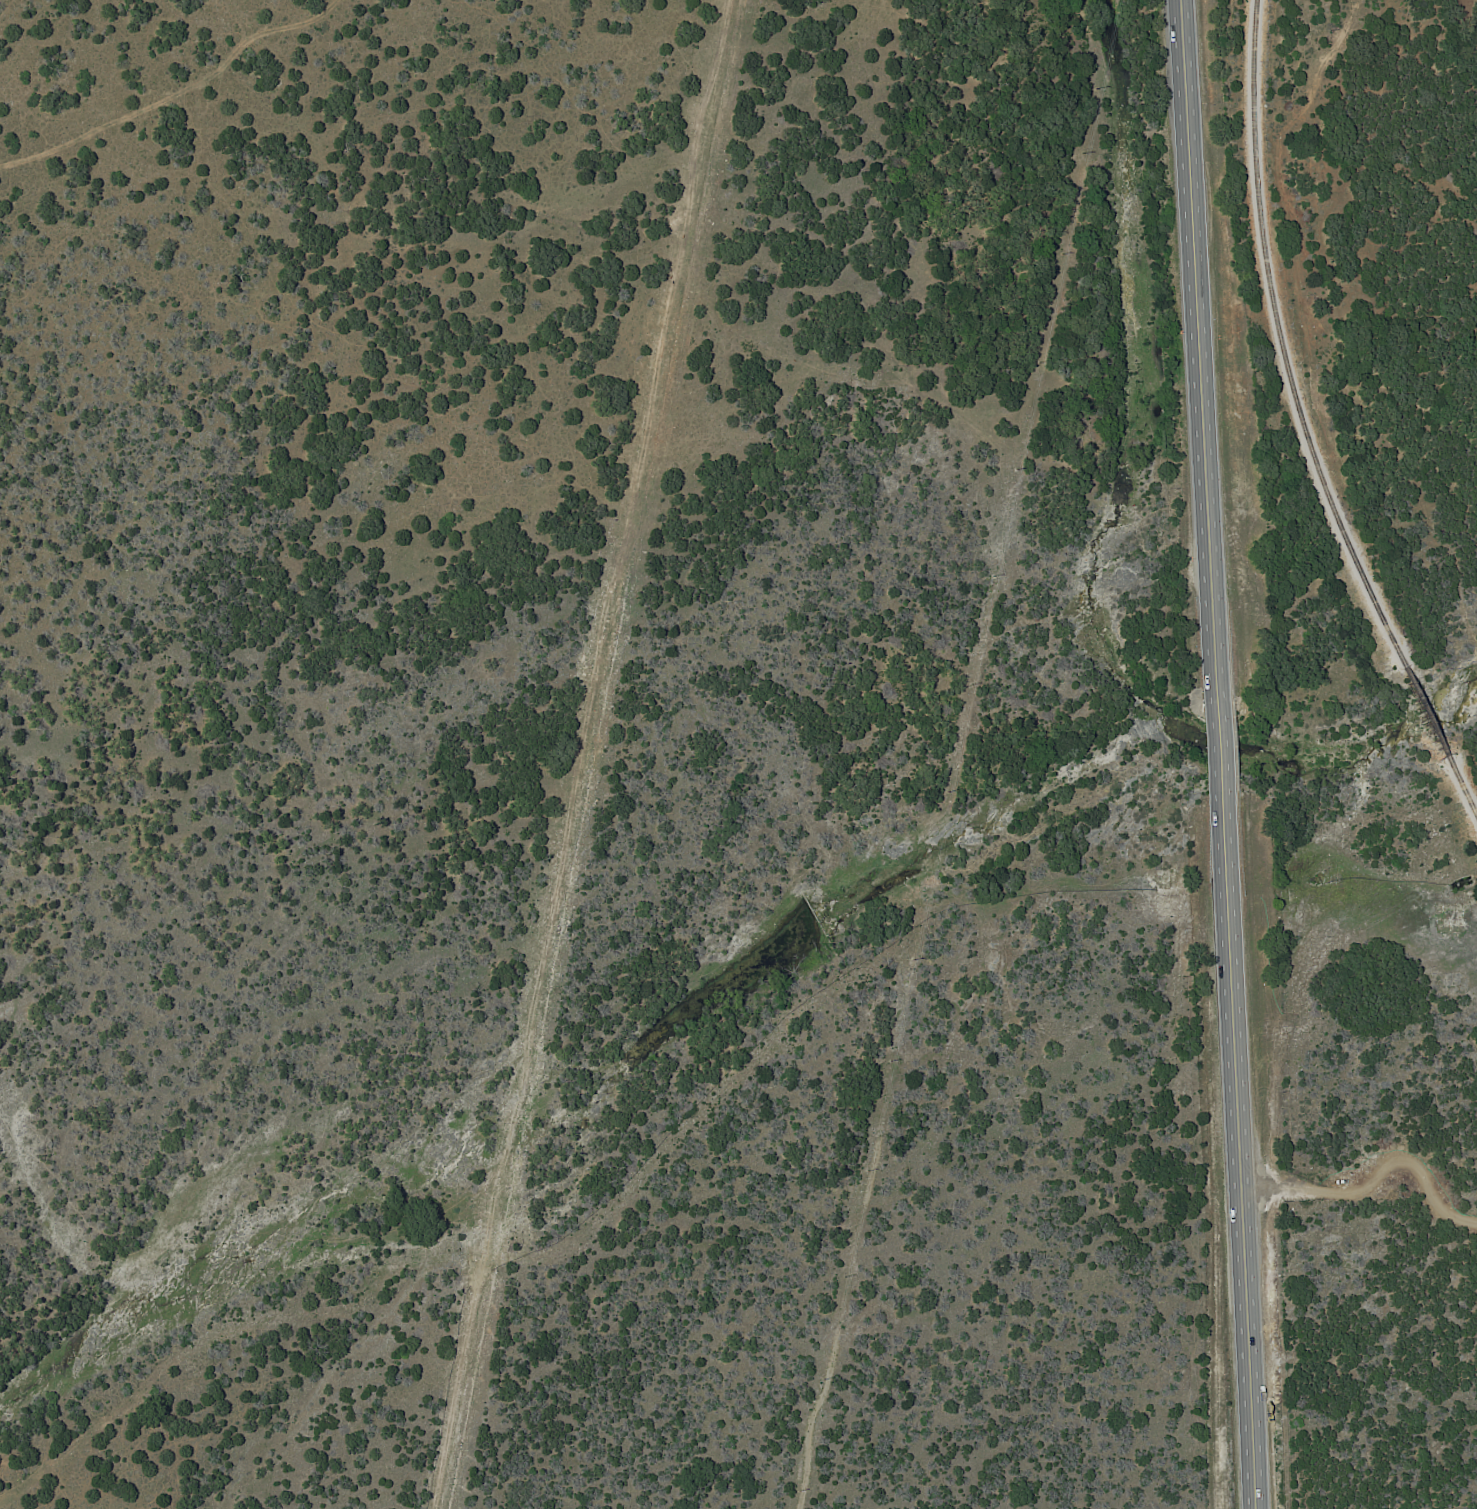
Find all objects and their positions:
road: (1195, 342)
railway: (1284, 345)
railway: (1425, 714)
road: (1213, 733)
railway: (1462, 789)
road: (1231, 1146)

